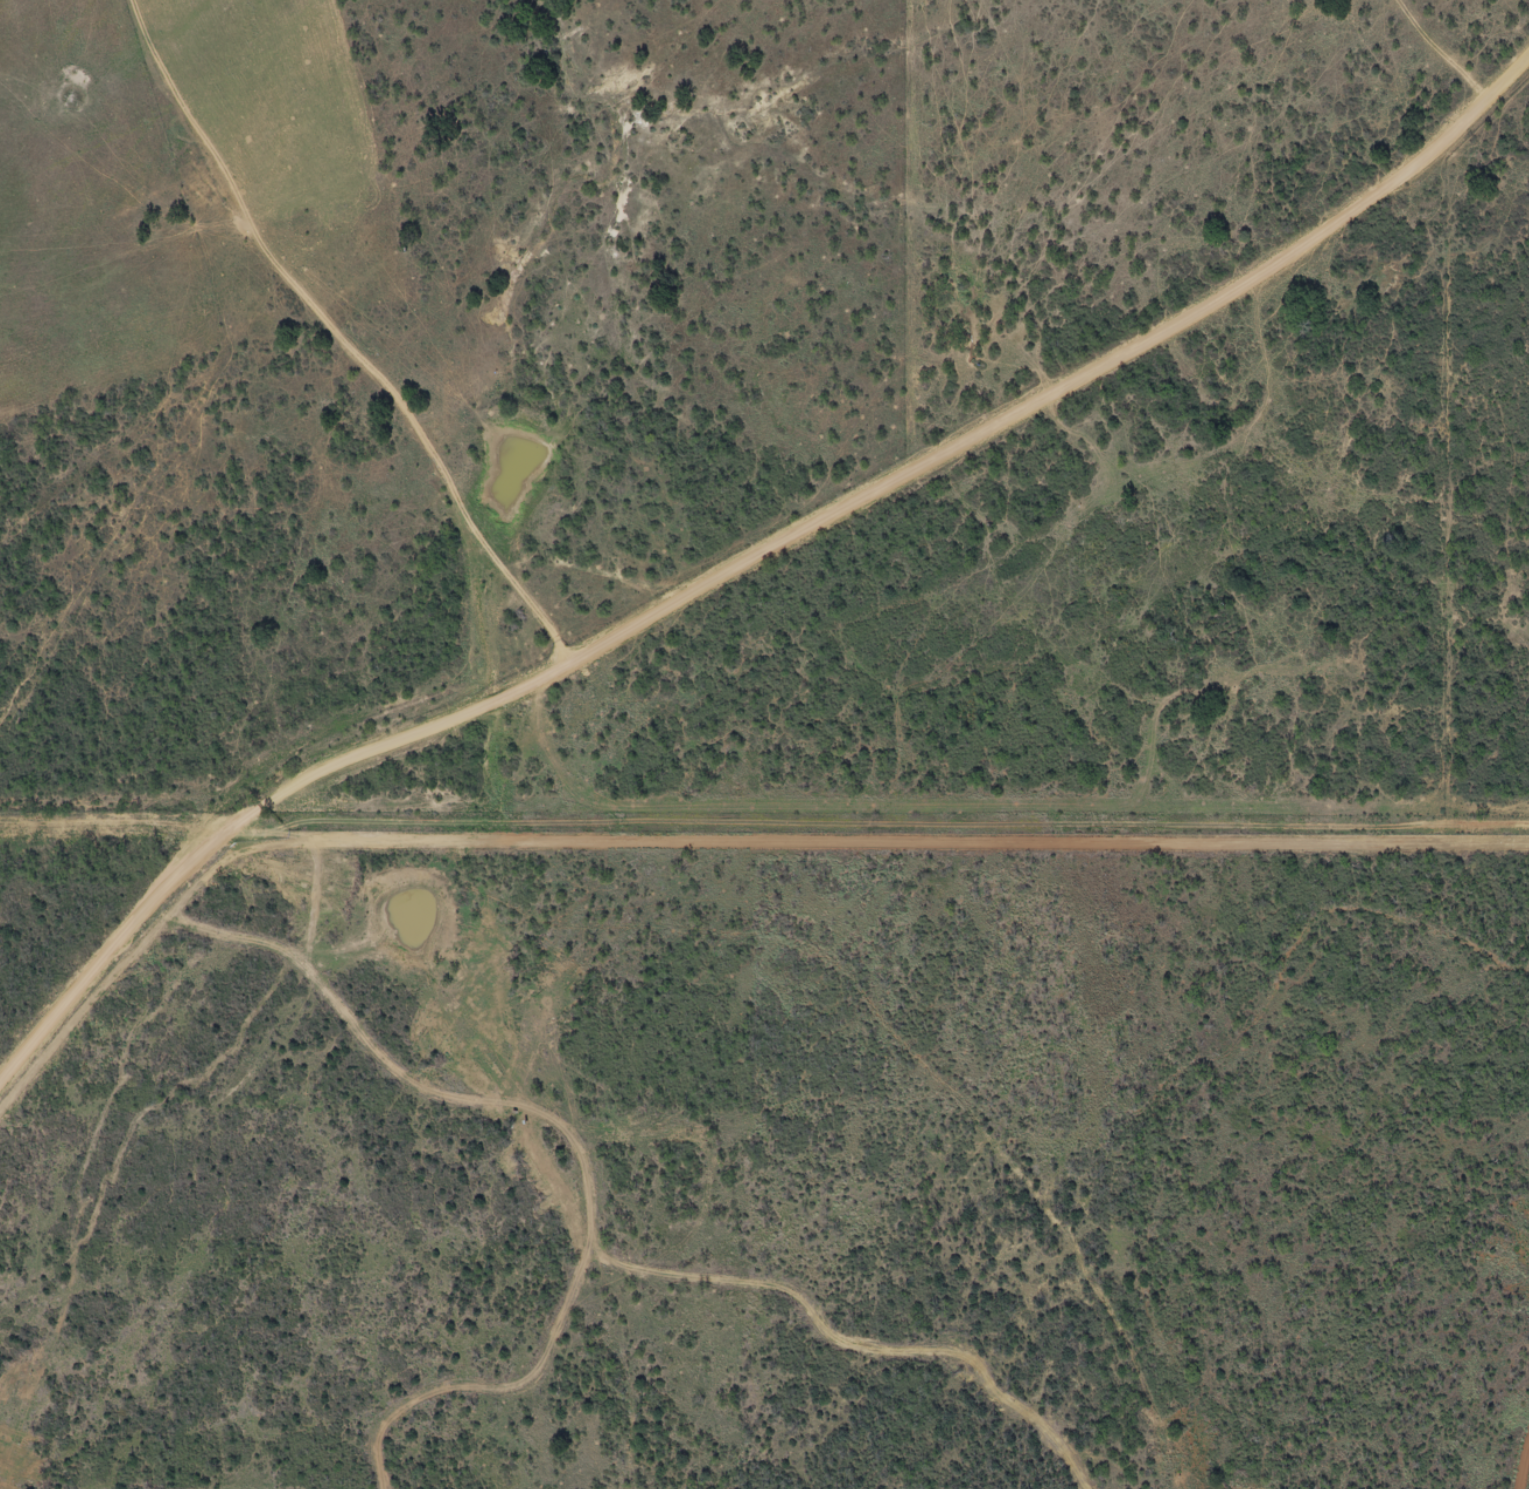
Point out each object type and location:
road: (1177, 331)
road: (325, 351)
road: (686, 598)
road: (245, 825)
road: (599, 1194)

